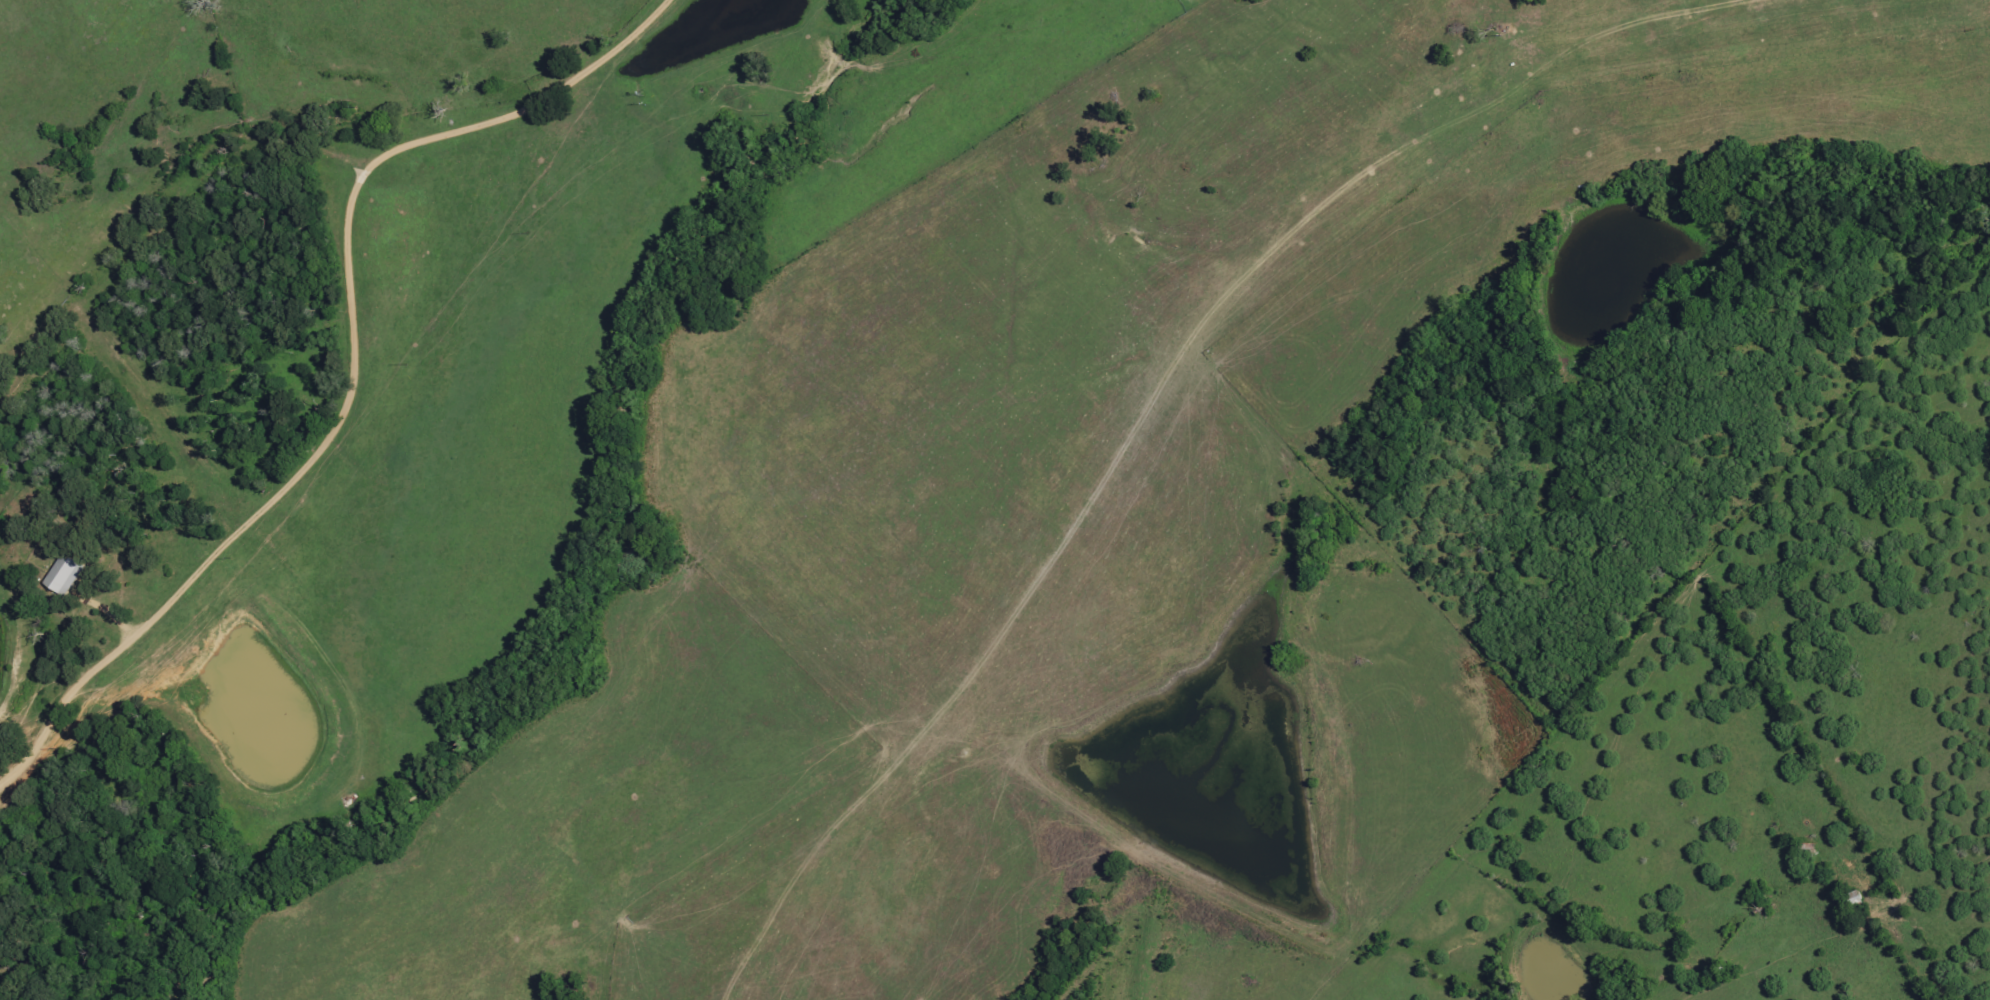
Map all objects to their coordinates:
road: (381, 401)
road: (1888, 966)

